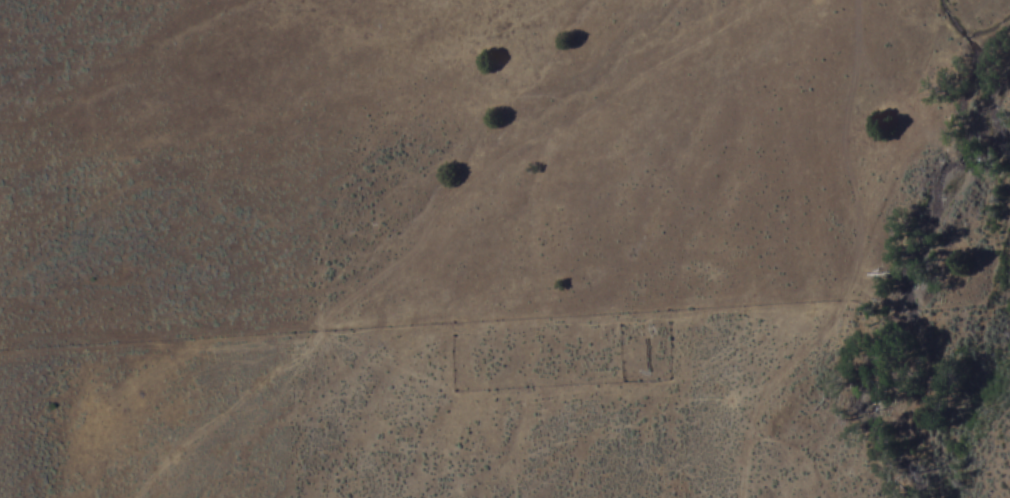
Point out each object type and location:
road: (836, 244)

